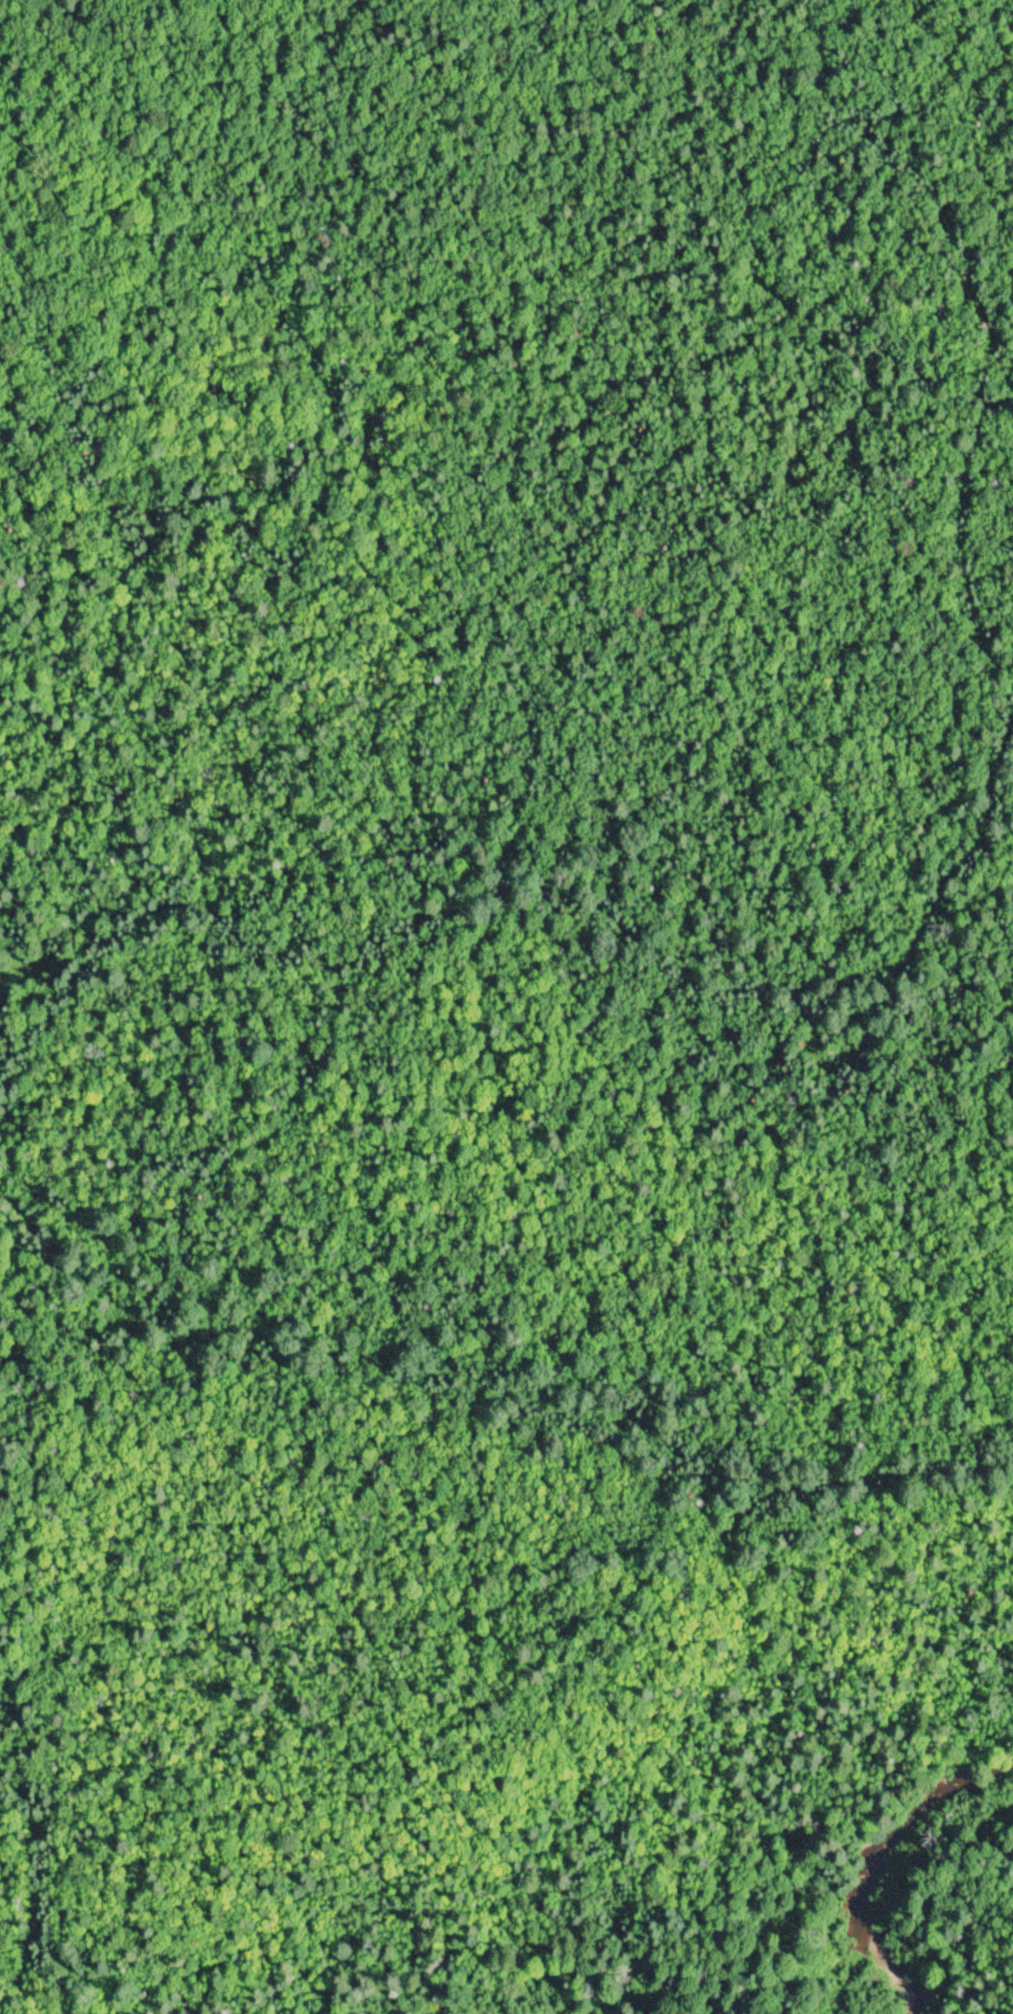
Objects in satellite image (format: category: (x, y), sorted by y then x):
road: (475, 1466)
river: (884, 1861)
road: (417, 1938)
road: (26, 1946)
road: (893, 1954)

